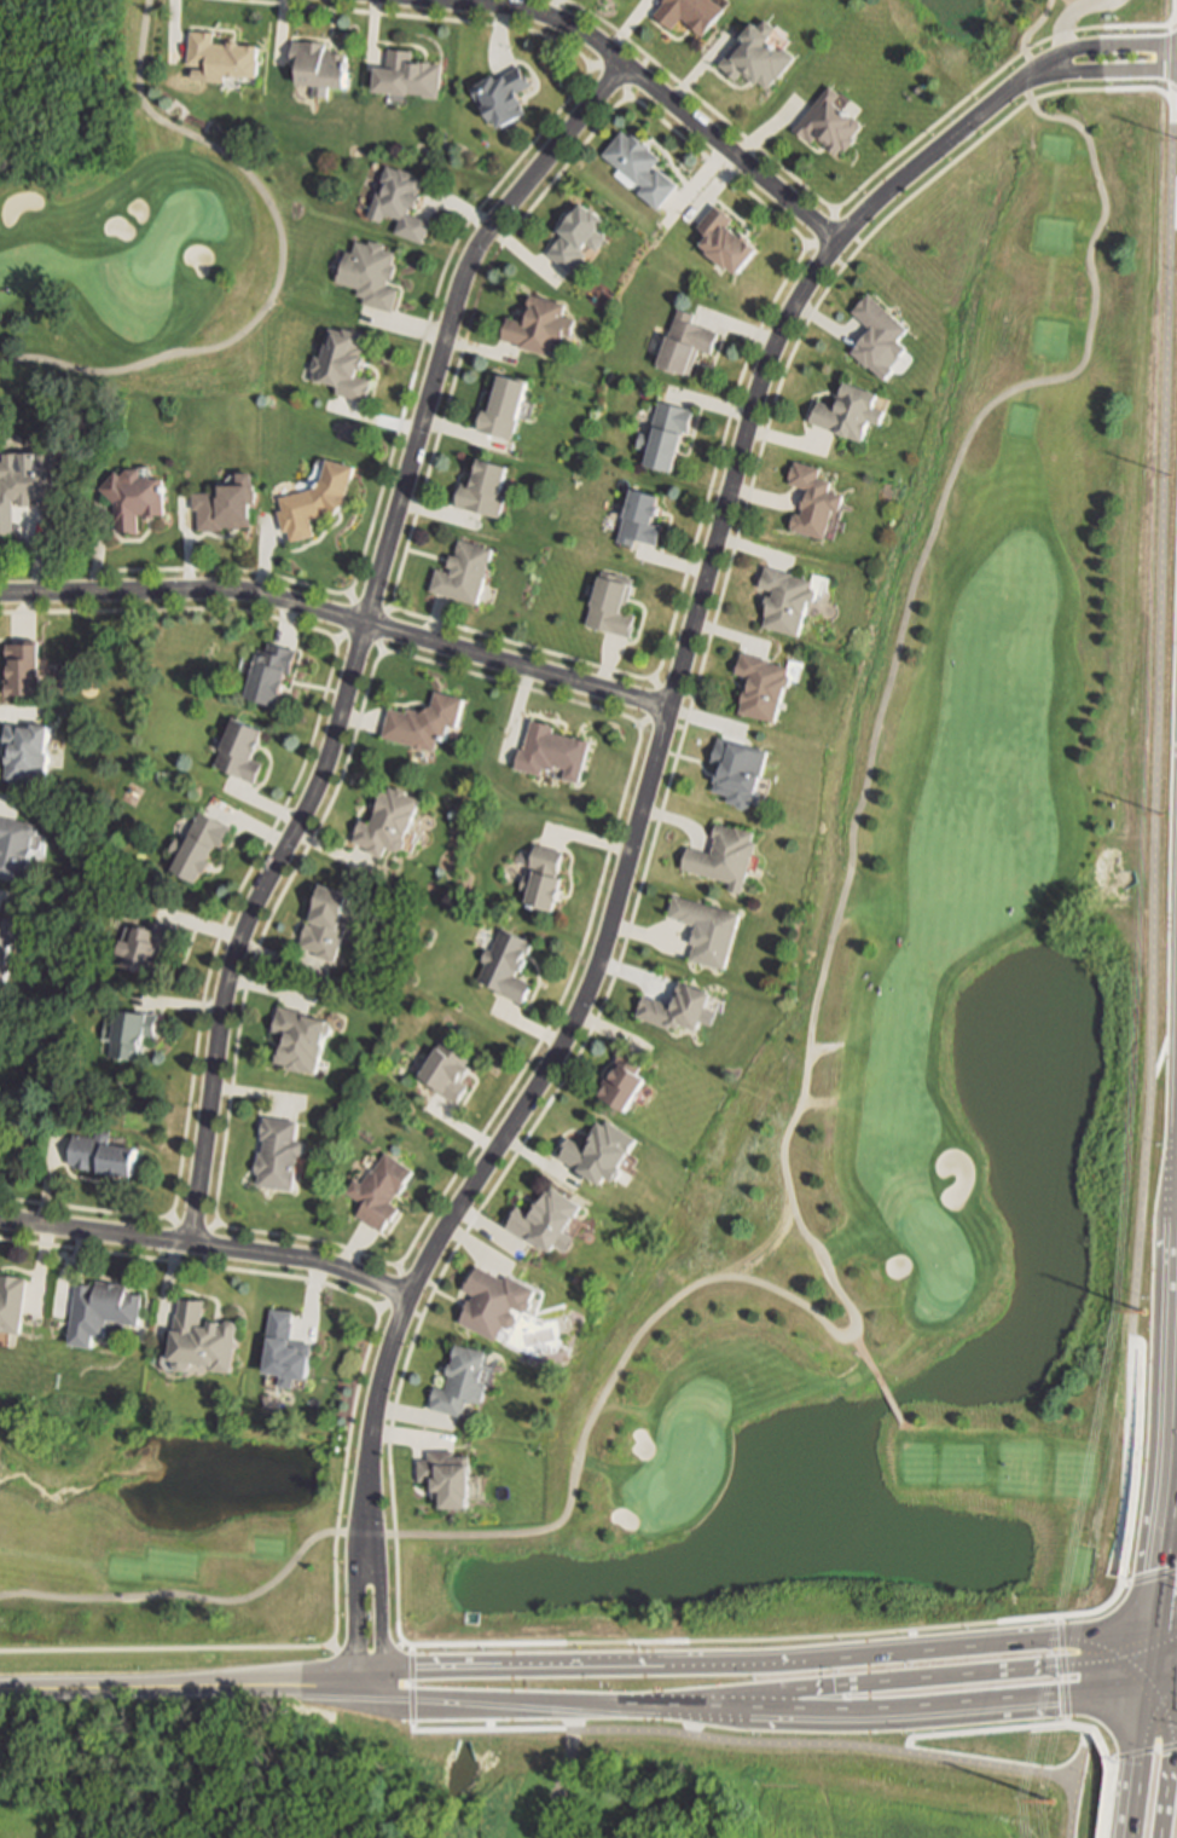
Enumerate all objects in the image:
building: (694, 12)
road: (1067, 15)
road: (1109, 46)
building: (761, 53)
building: (225, 54)
building: (320, 64)
building: (411, 71)
road: (1112, 71)
building: (504, 92)
road: (655, 94)
building: (831, 121)
building: (643, 164)
building: (402, 200)
building: (580, 233)
building: (729, 237)
park: (163, 239)
park: (135, 259)
road: (280, 262)
building: (371, 271)
building: (538, 324)
building: (883, 334)
building: (686, 341)
building: (344, 363)
building: (506, 405)
building: (854, 410)
building: (667, 433)
building: (23, 475)
building: (487, 486)
building: (135, 497)
building: (319, 499)
building: (817, 499)
building: (230, 503)
building: (640, 518)
building: (468, 571)
building: (789, 597)
building: (613, 605)
road: (340, 619)
road: (361, 636)
building: (27, 666)
building: (273, 670)
building: (766, 684)
building: (428, 721)
building: (243, 749)
building: (29, 750)
building: (553, 750)
building: (741, 769)
road: (649, 778)
road: (1153, 788)
building: (392, 820)
building: (199, 844)
building: (16, 846)
building: (727, 855)
building: (545, 875)
building: (0, 913)
building: (331, 921)
building: (711, 927)
building: (6, 942)
building: (149, 943)
building: (506, 964)
building: (680, 1006)
building: (132, 1031)
building: (303, 1038)
park: (821, 1064)
building: (450, 1069)
building: (624, 1079)
road: (787, 1129)
building: (279, 1151)
building: (598, 1152)
building: (104, 1154)
building: (381, 1190)
road: (474, 1218)
building: (545, 1221)
road: (205, 1244)
park: (938, 1252)
building: (495, 1301)
building: (12, 1306)
building: (104, 1308)
building: (208, 1340)
building: (282, 1352)
road: (863, 1356)
building: (465, 1380)
road: (887, 1400)
park: (686, 1470)
building: (452, 1476)
road: (1169, 1480)
road: (1149, 1578)
road: (355, 1618)
road: (379, 1618)
road: (1164, 1624)
traffic signals: (1152, 1626)
traffic signals: (1148, 1655)
road: (1147, 1658)
road: (766, 1664)
road: (1063, 1671)
road: (914, 1678)
road: (190, 1682)
road: (412, 1688)
road: (1161, 1688)
traffic signals: (1170, 1688)
traffic signals: (1146, 1690)
road: (1156, 1704)
road: (760, 1711)
road: (1171, 1713)
road: (567, 1717)
road: (1049, 1727)
road: (493, 1730)
road: (824, 1745)
road: (1141, 1752)
road: (1135, 1763)
road: (1073, 1786)
park: (458, 1796)
power tower: (1050, 1801)

